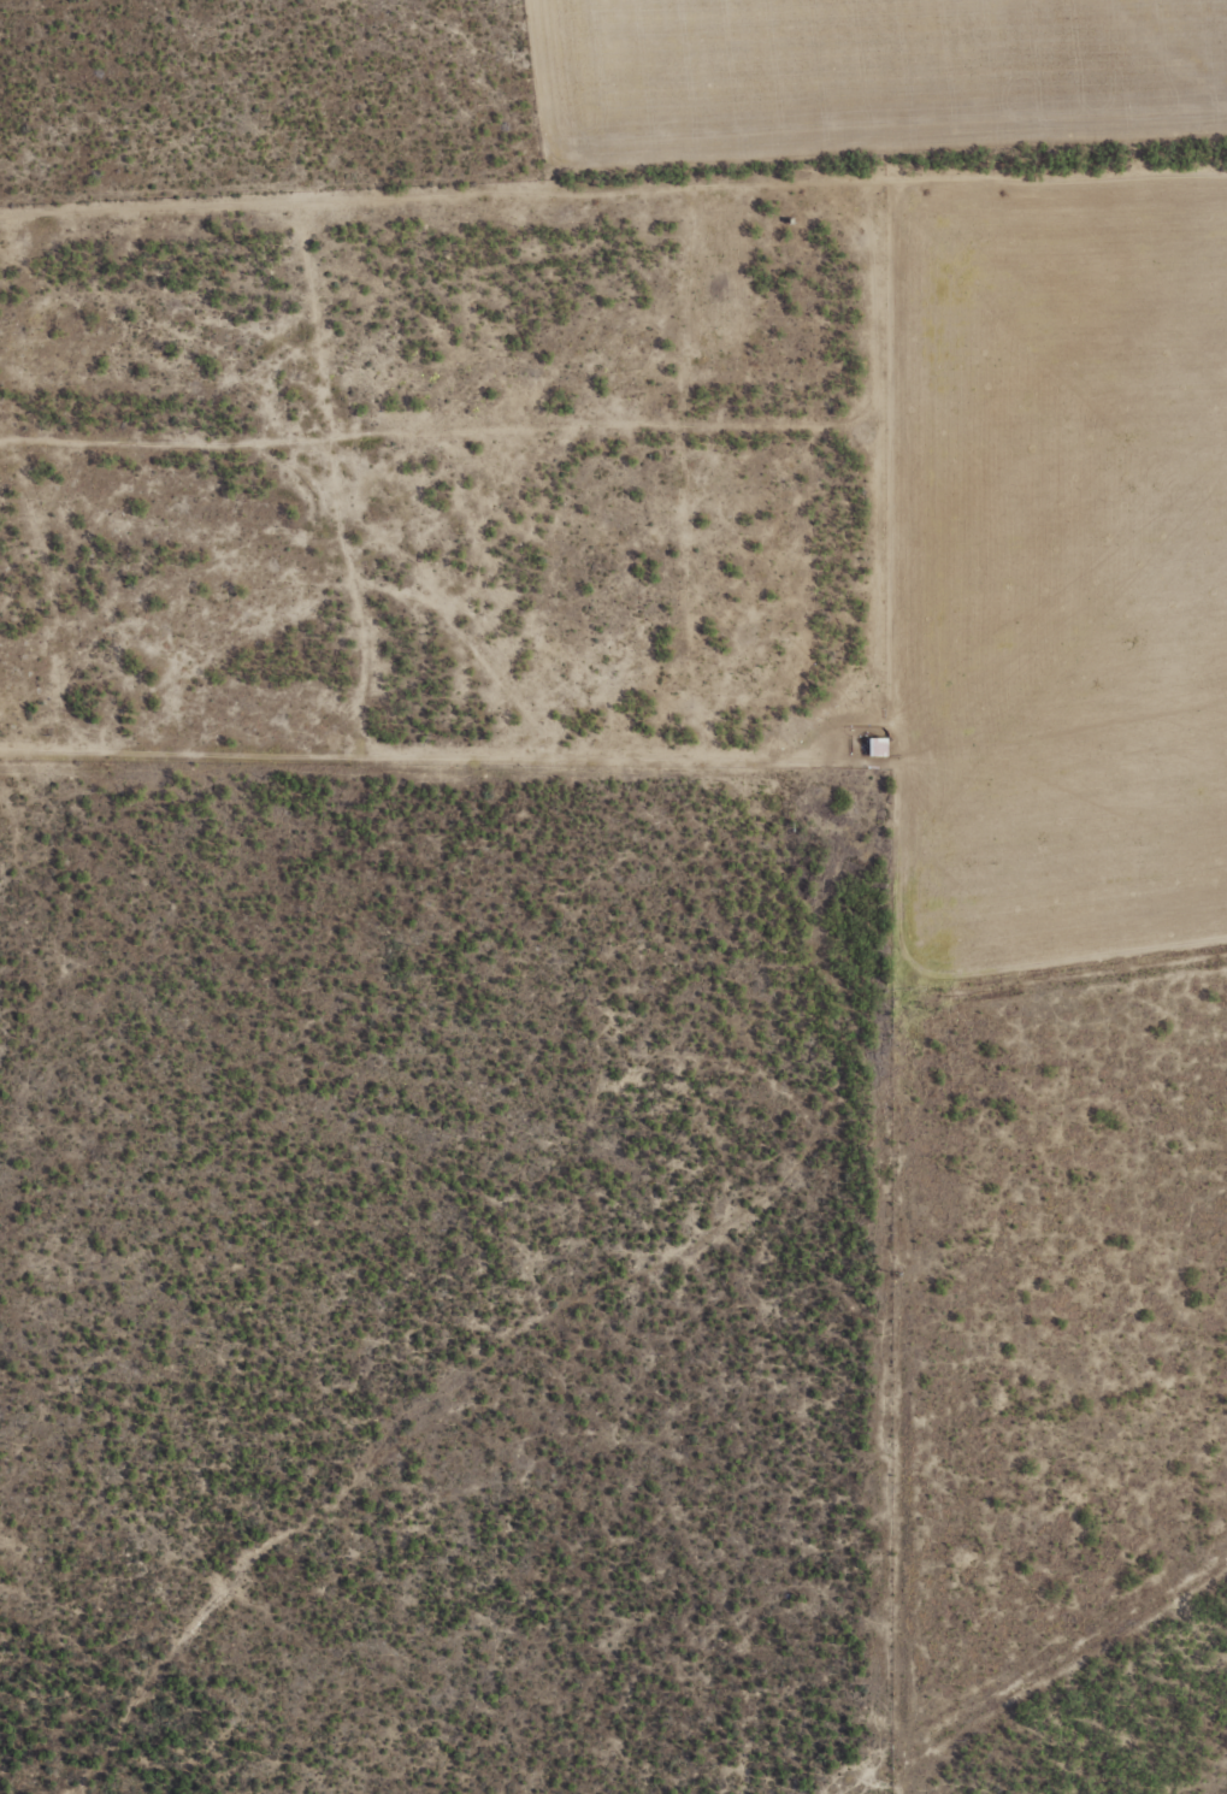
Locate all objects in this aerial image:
building: (879, 746)

